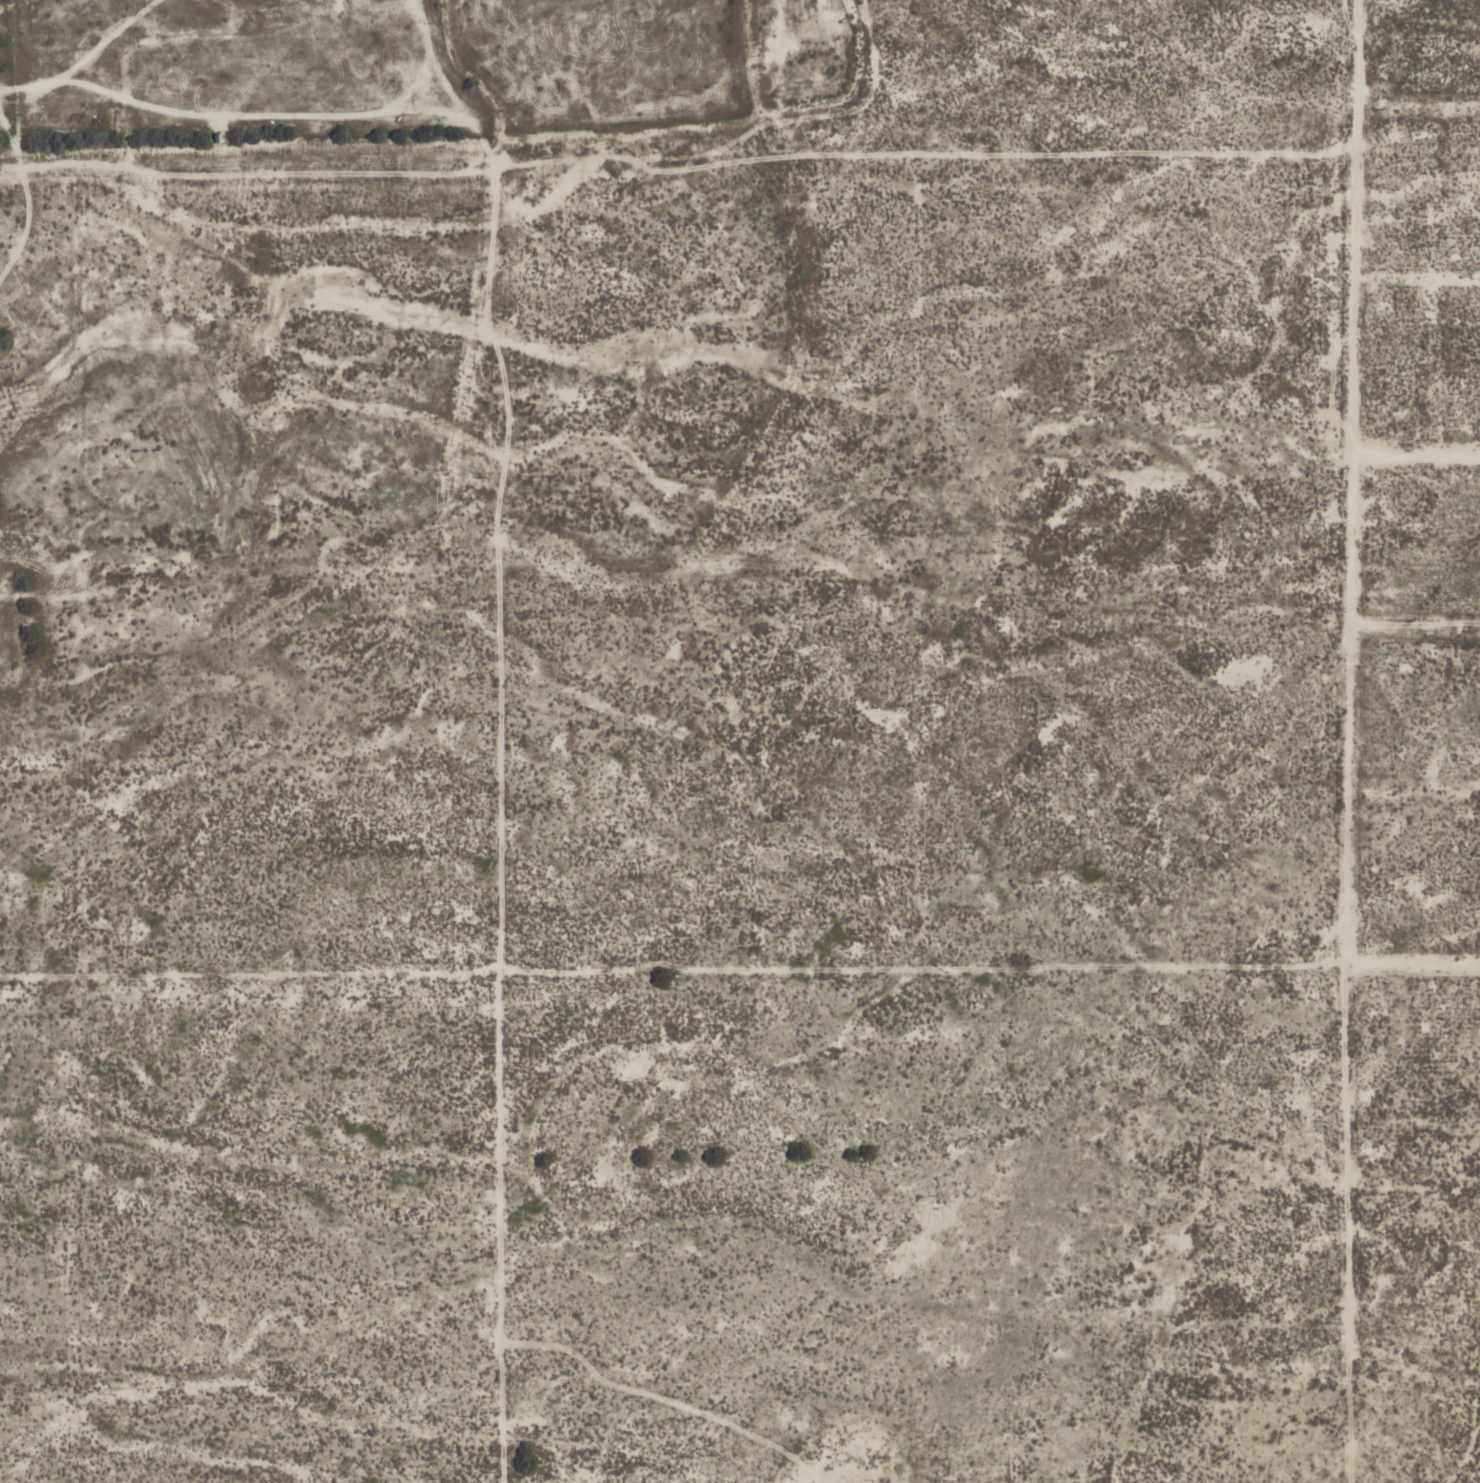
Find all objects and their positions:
road: (493, 826)
railway: (368, 891)
railway: (362, 901)
road: (740, 978)

